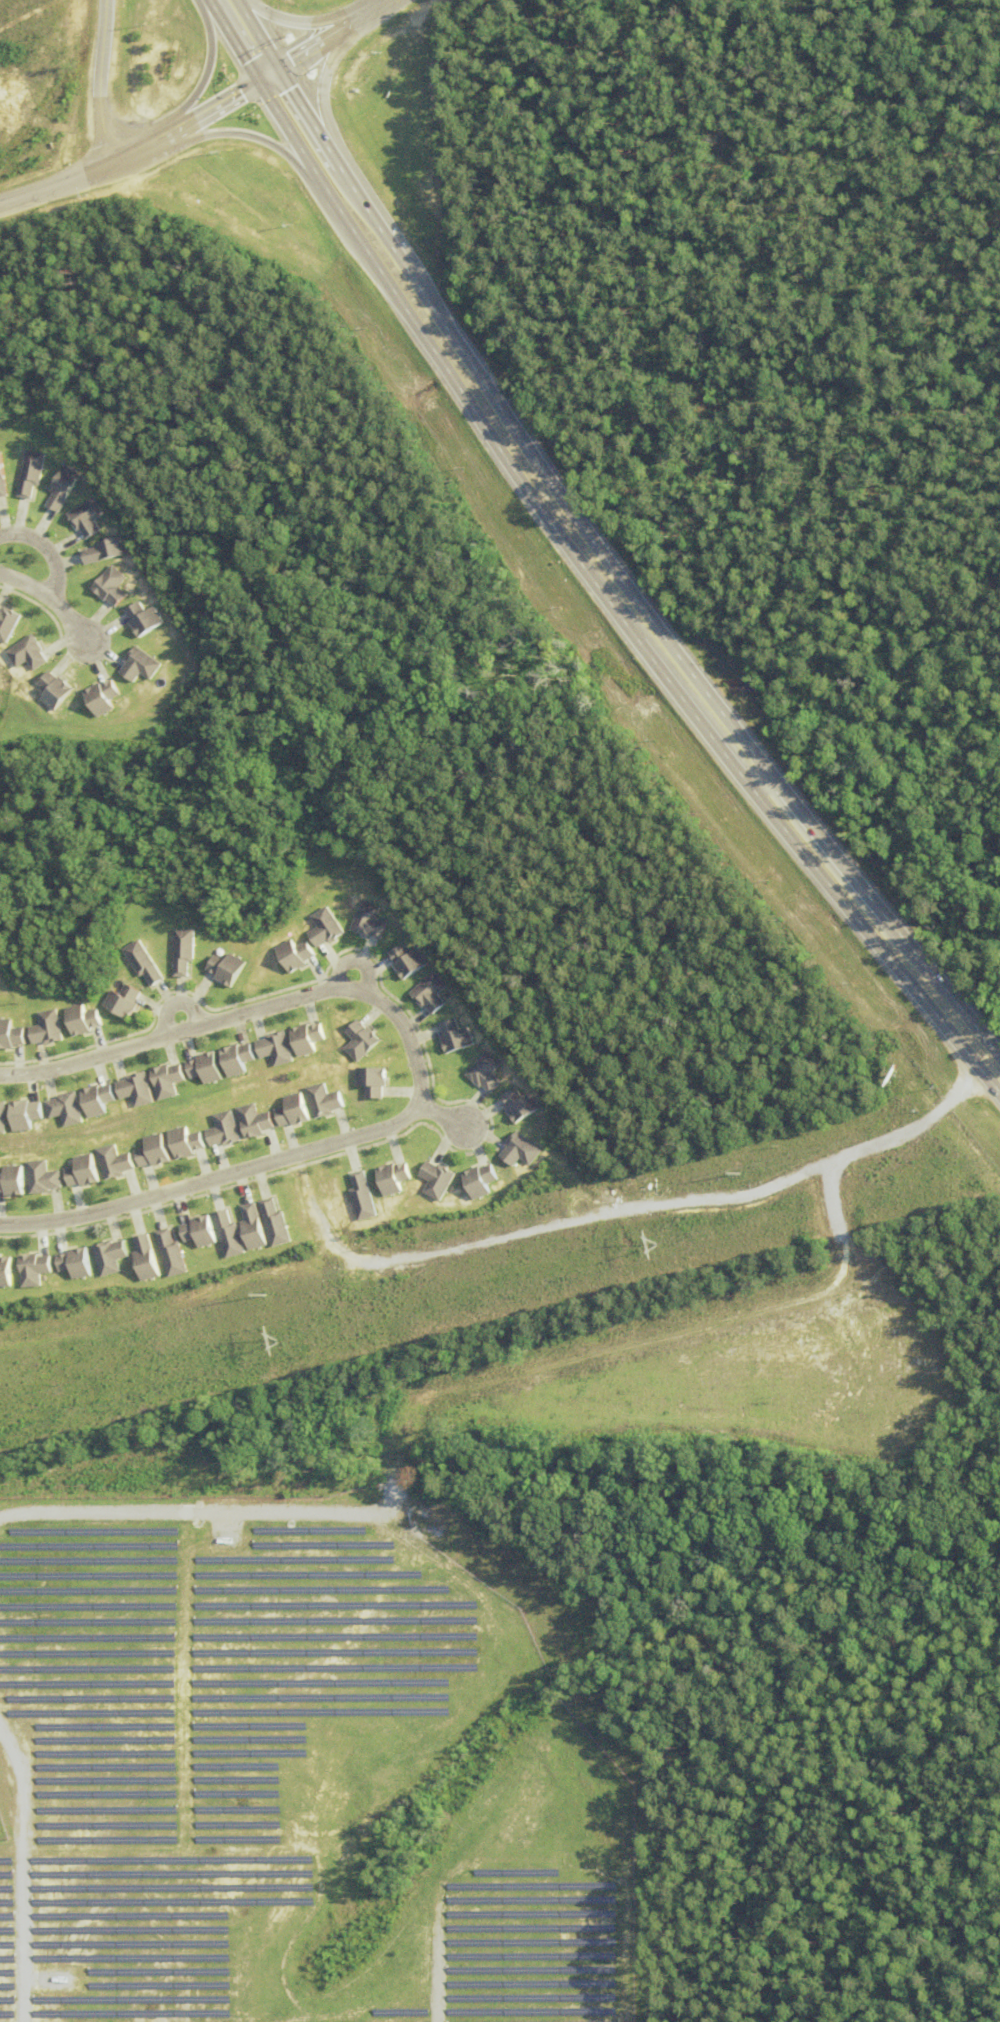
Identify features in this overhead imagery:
road: (388, 3)
road: (369, 15)
road: (292, 23)
road: (256, 35)
road: (232, 41)
road: (315, 47)
road: (208, 69)
traffic signals: (278, 71)
road: (99, 81)
traffic signals: (257, 82)
road: (318, 87)
road: (219, 103)
road: (299, 106)
road: (242, 132)
road: (139, 149)
road: (336, 168)
road: (58, 185)
road: (382, 242)
building: (28, 473)
building: (2, 481)
building: (60, 487)
building: (83, 517)
road: (46, 550)
building: (102, 550)
building: (107, 585)
road: (51, 601)
road: (607, 602)
building: (140, 618)
building: (6, 622)
building: (25, 653)
building: (137, 665)
road: (693, 681)
building: (53, 689)
building: (100, 697)
road: (757, 780)
building: (368, 921)
building: (324, 927)
building: (182, 951)
building: (294, 954)
road: (357, 960)
building: (407, 961)
building: (142, 962)
building: (226, 968)
building: (430, 993)
building: (122, 1001)
road: (176, 1004)
building: (81, 1019)
building: (46, 1028)
building: (10, 1034)
building: (455, 1037)
building: (310, 1038)
building: (364, 1041)
building: (278, 1048)
building: (240, 1059)
building: (207, 1068)
road: (421, 1070)
building: (486, 1072)
building: (169, 1080)
building: (375, 1082)
building: (138, 1090)
building: (100, 1100)
building: (328, 1100)
building: (520, 1105)
building: (67, 1109)
building: (296, 1110)
road: (444, 1114)
building: (26, 1115)
building: (3, 1118)
building: (257, 1120)
building: (225, 1130)
building: (172, 1146)
building: (521, 1150)
building: (118, 1161)
building: (86, 1170)
building: (45, 1177)
building: (392, 1177)
building: (15, 1180)
building: (437, 1180)
building: (480, 1180)
building: (361, 1197)
building: (273, 1223)
building: (251, 1227)
building: (198, 1231)
building: (227, 1234)
power tower: (656, 1245)
building: (169, 1254)
building: (109, 1256)
building: (144, 1259)
building: (74, 1263)
building: (33, 1269)
building: (5, 1272)
power tower: (271, 1343)
solar farm: (289, 1779)

